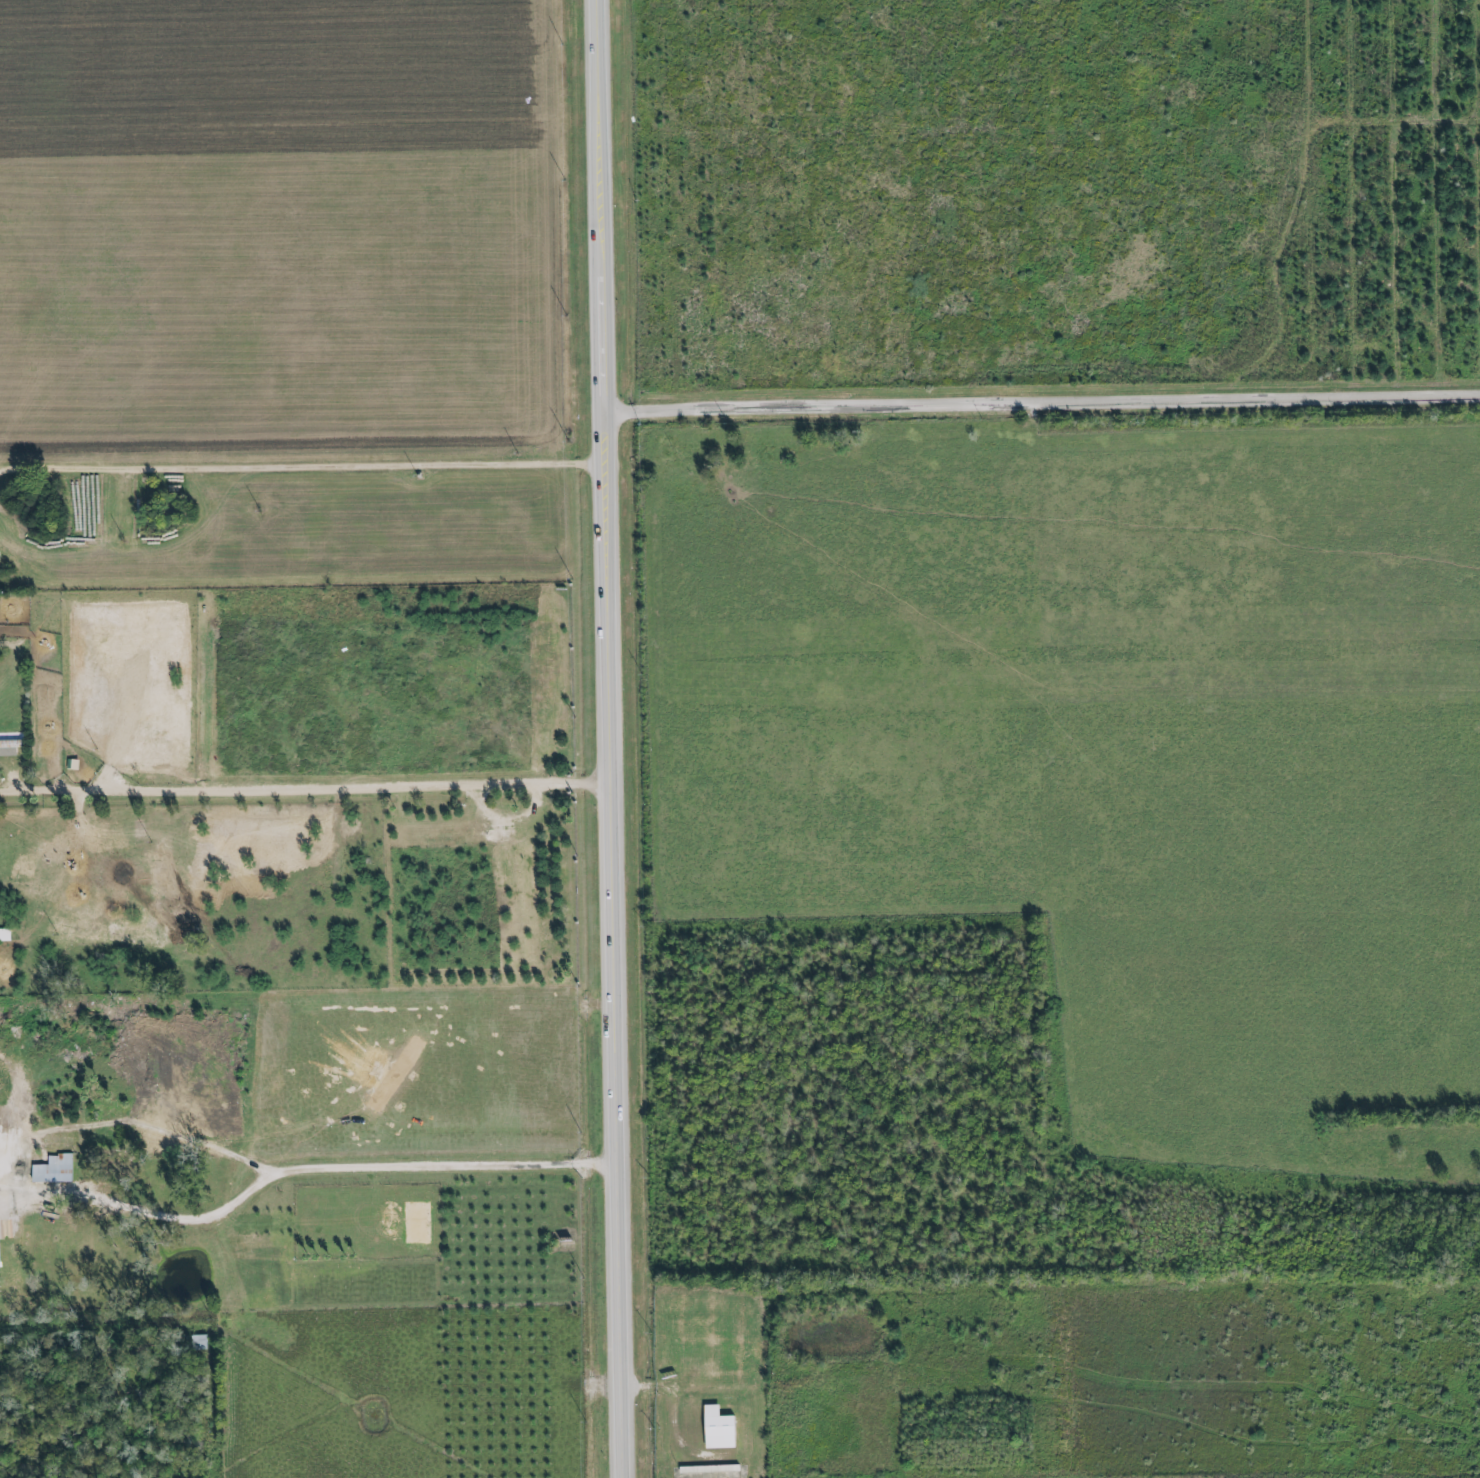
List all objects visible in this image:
road: (1044, 400)
road: (304, 469)
road: (612, 738)
road: (352, 787)
road: (45, 791)
building: (4, 935)
building: (51, 1170)
road: (396, 1174)
road: (103, 1206)
building: (715, 1429)

